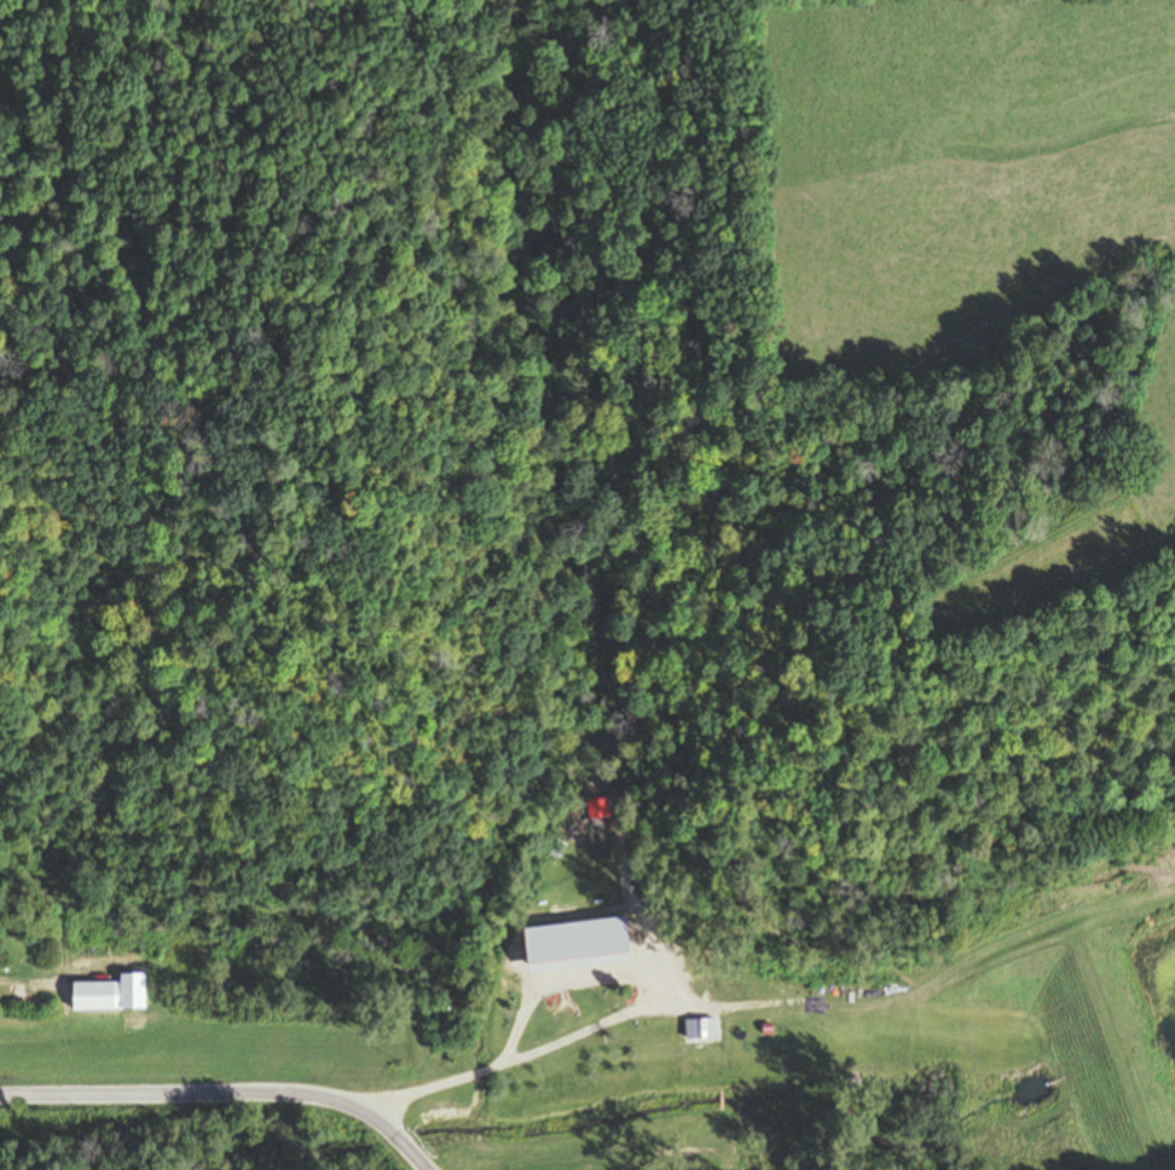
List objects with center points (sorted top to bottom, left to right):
building: (598, 812)
building: (607, 954)
road: (610, 1004)
building: (695, 1070)
road: (228, 1085)

